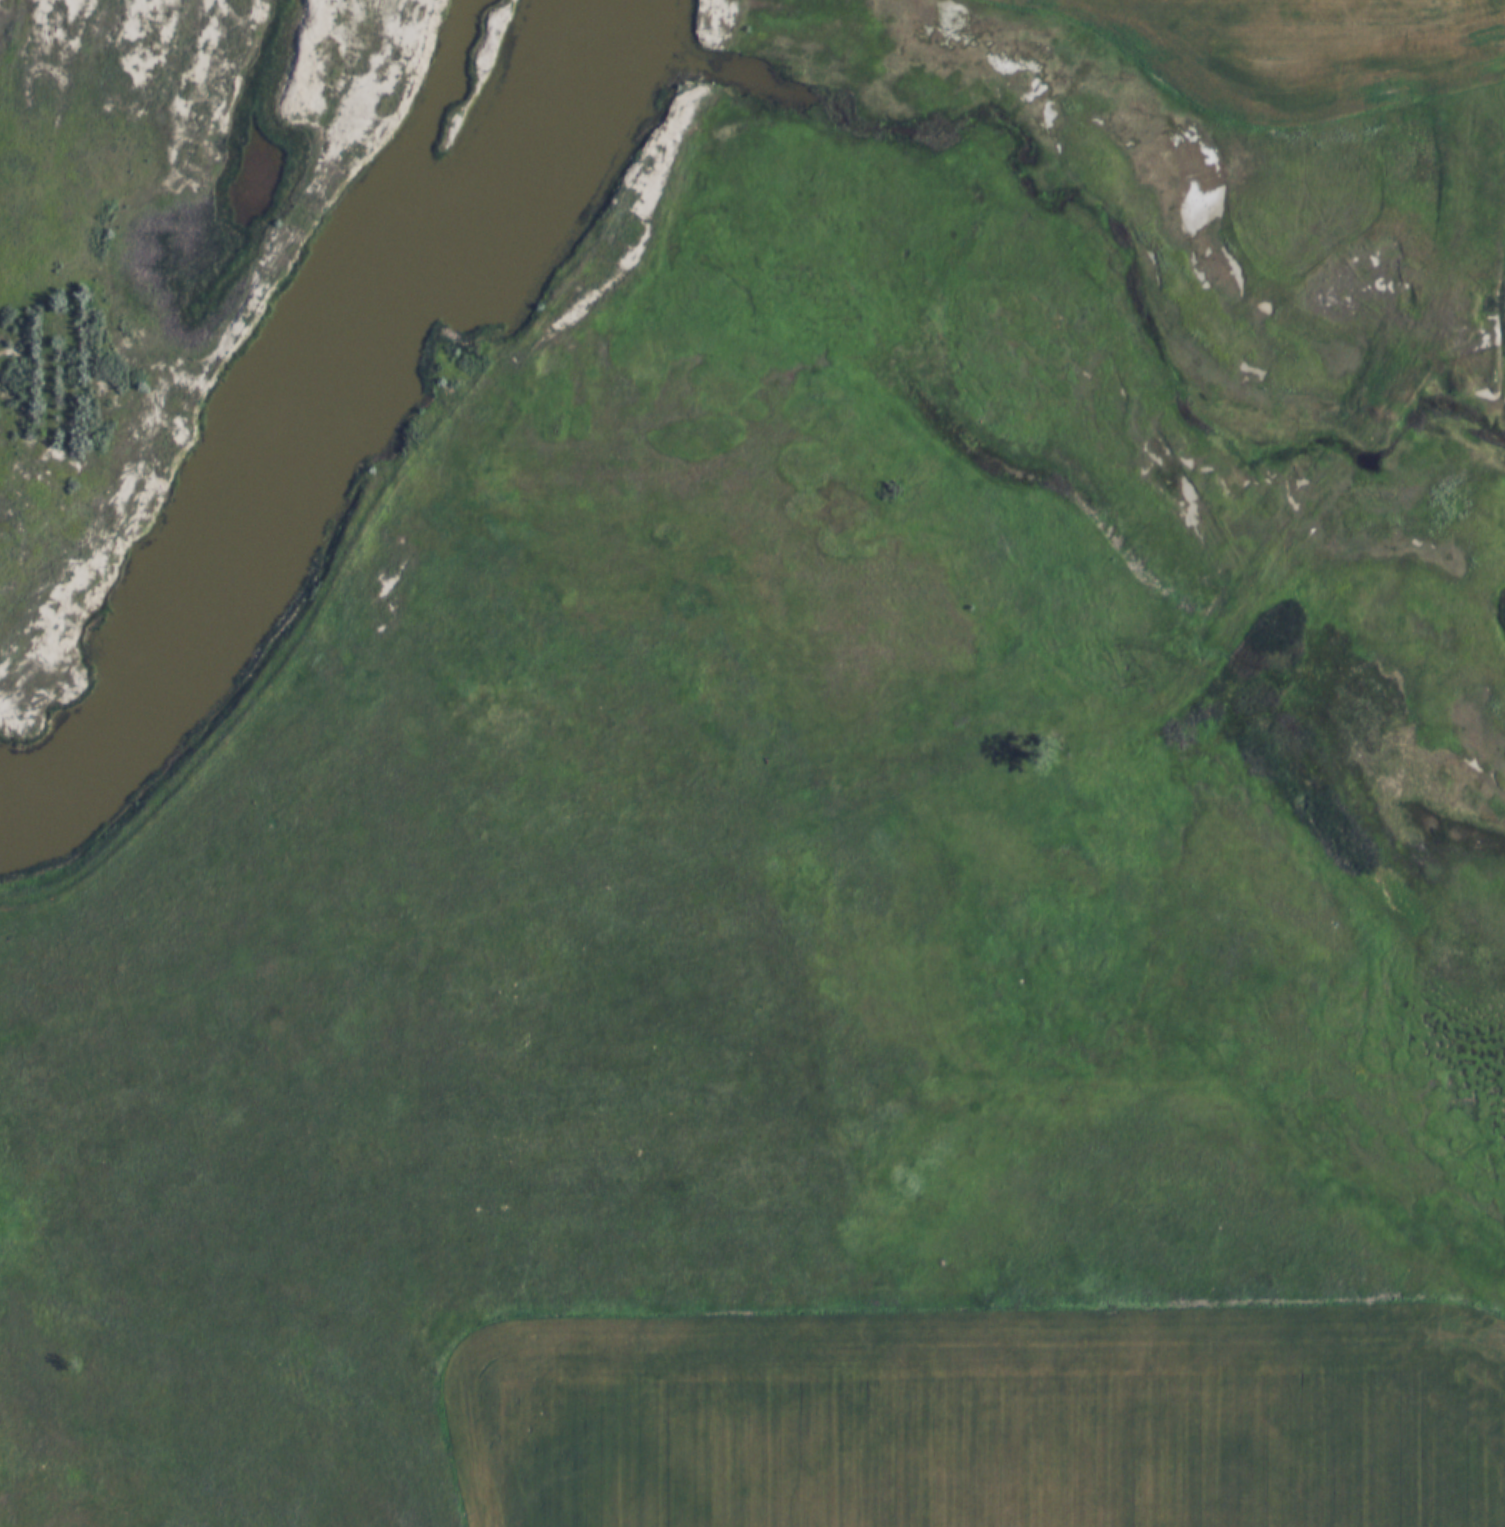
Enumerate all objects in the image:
quarry: (268, 326)

